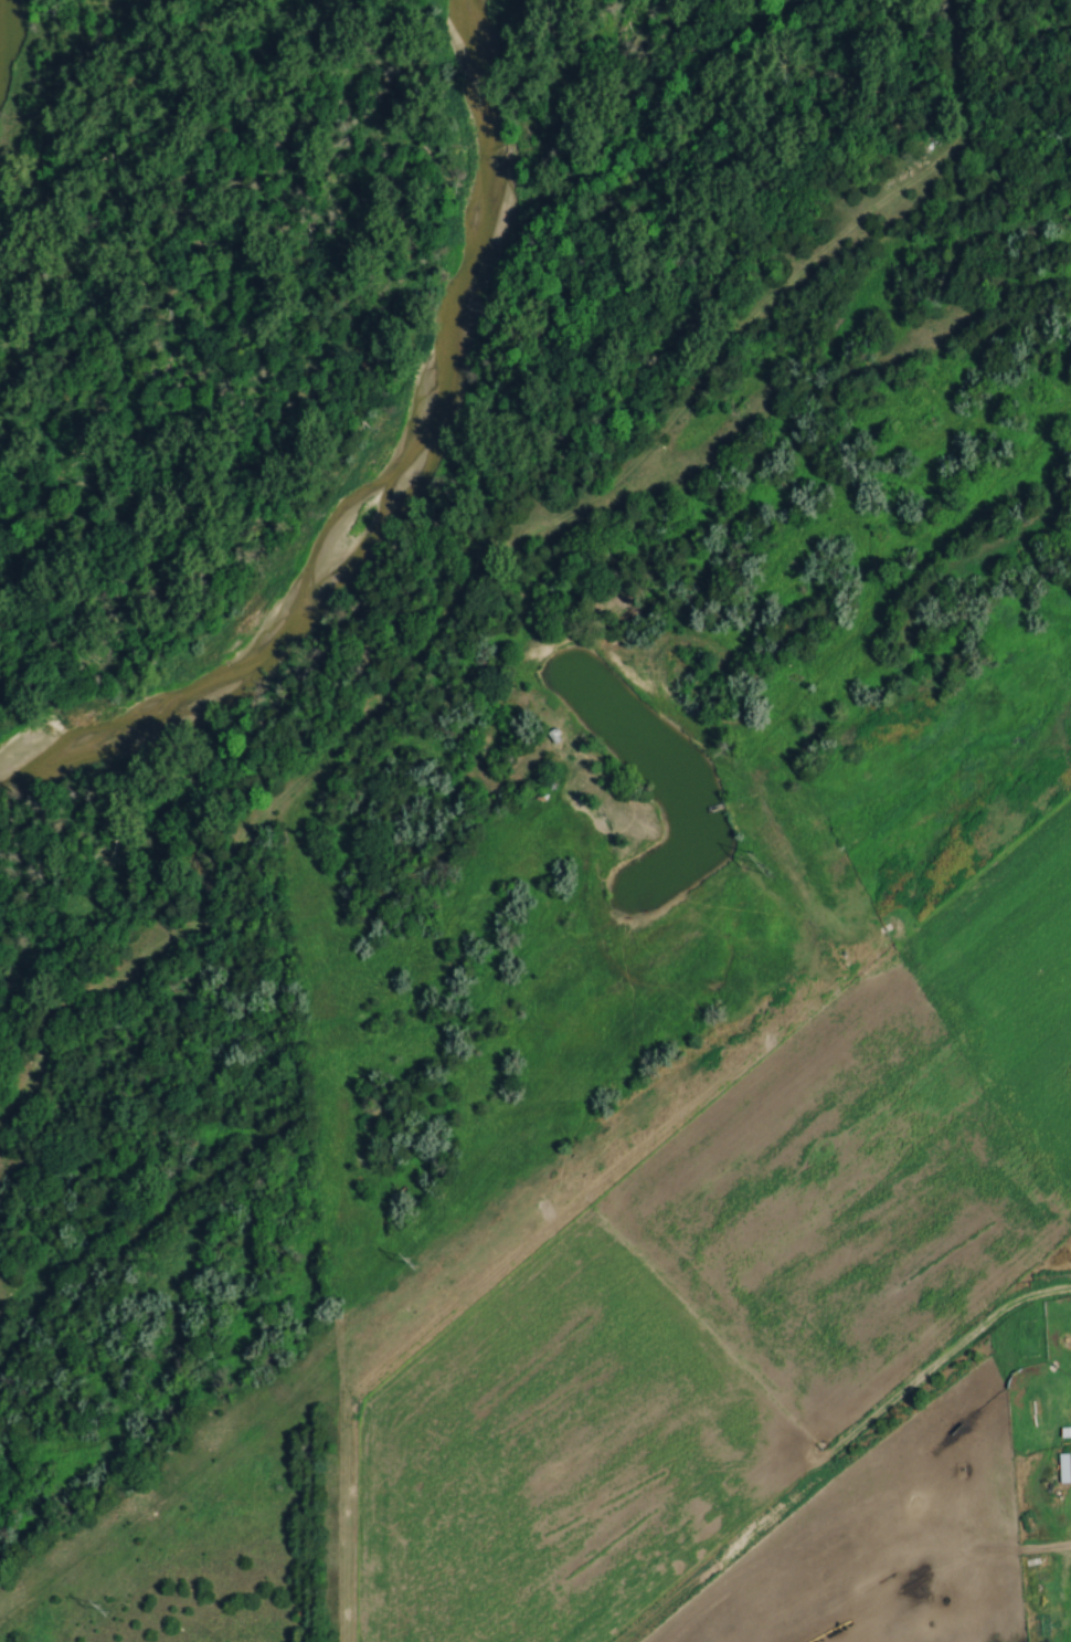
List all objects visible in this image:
power tower: (759, 864)
power tower: (406, 1260)
building: (1064, 1431)
power tower: (100, 1608)

